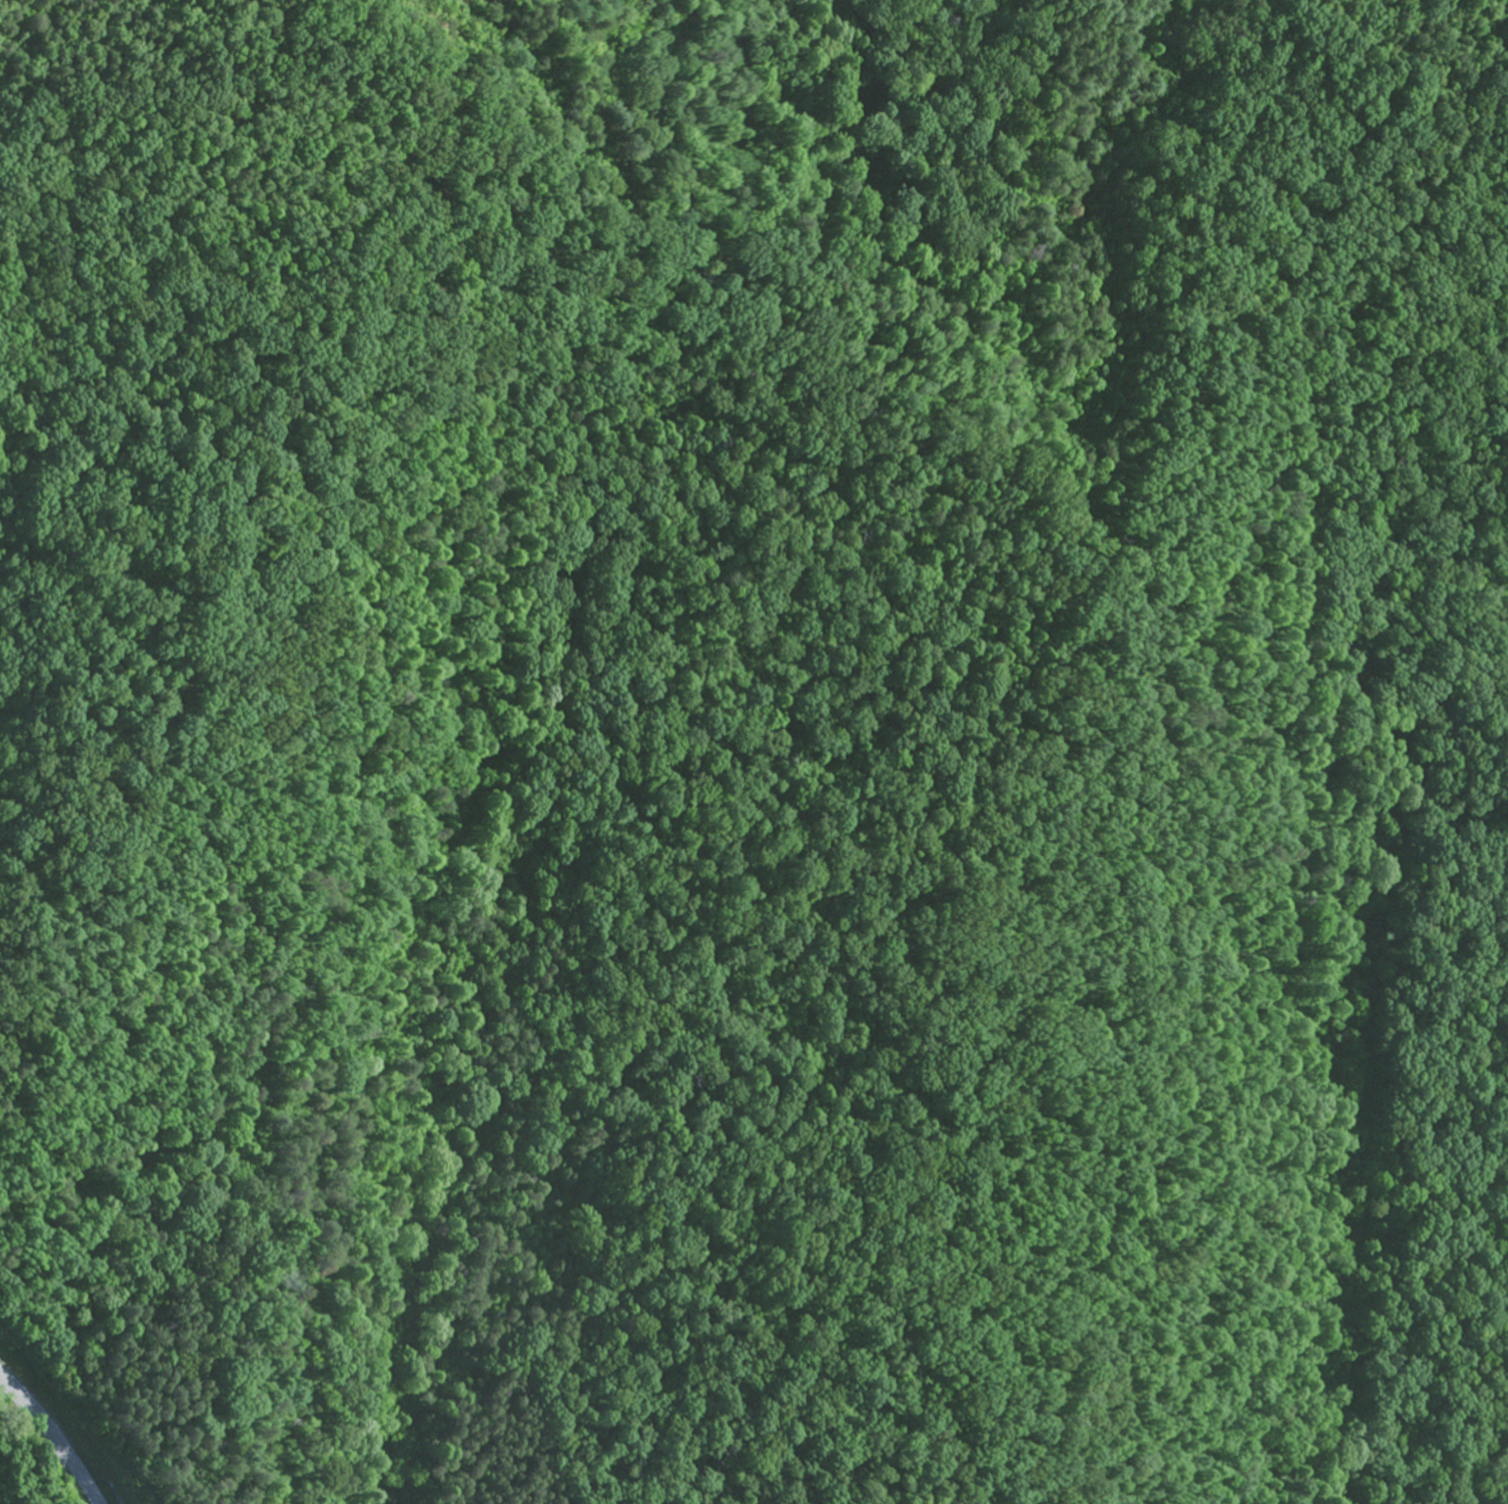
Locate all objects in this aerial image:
road: (54, 1436)

